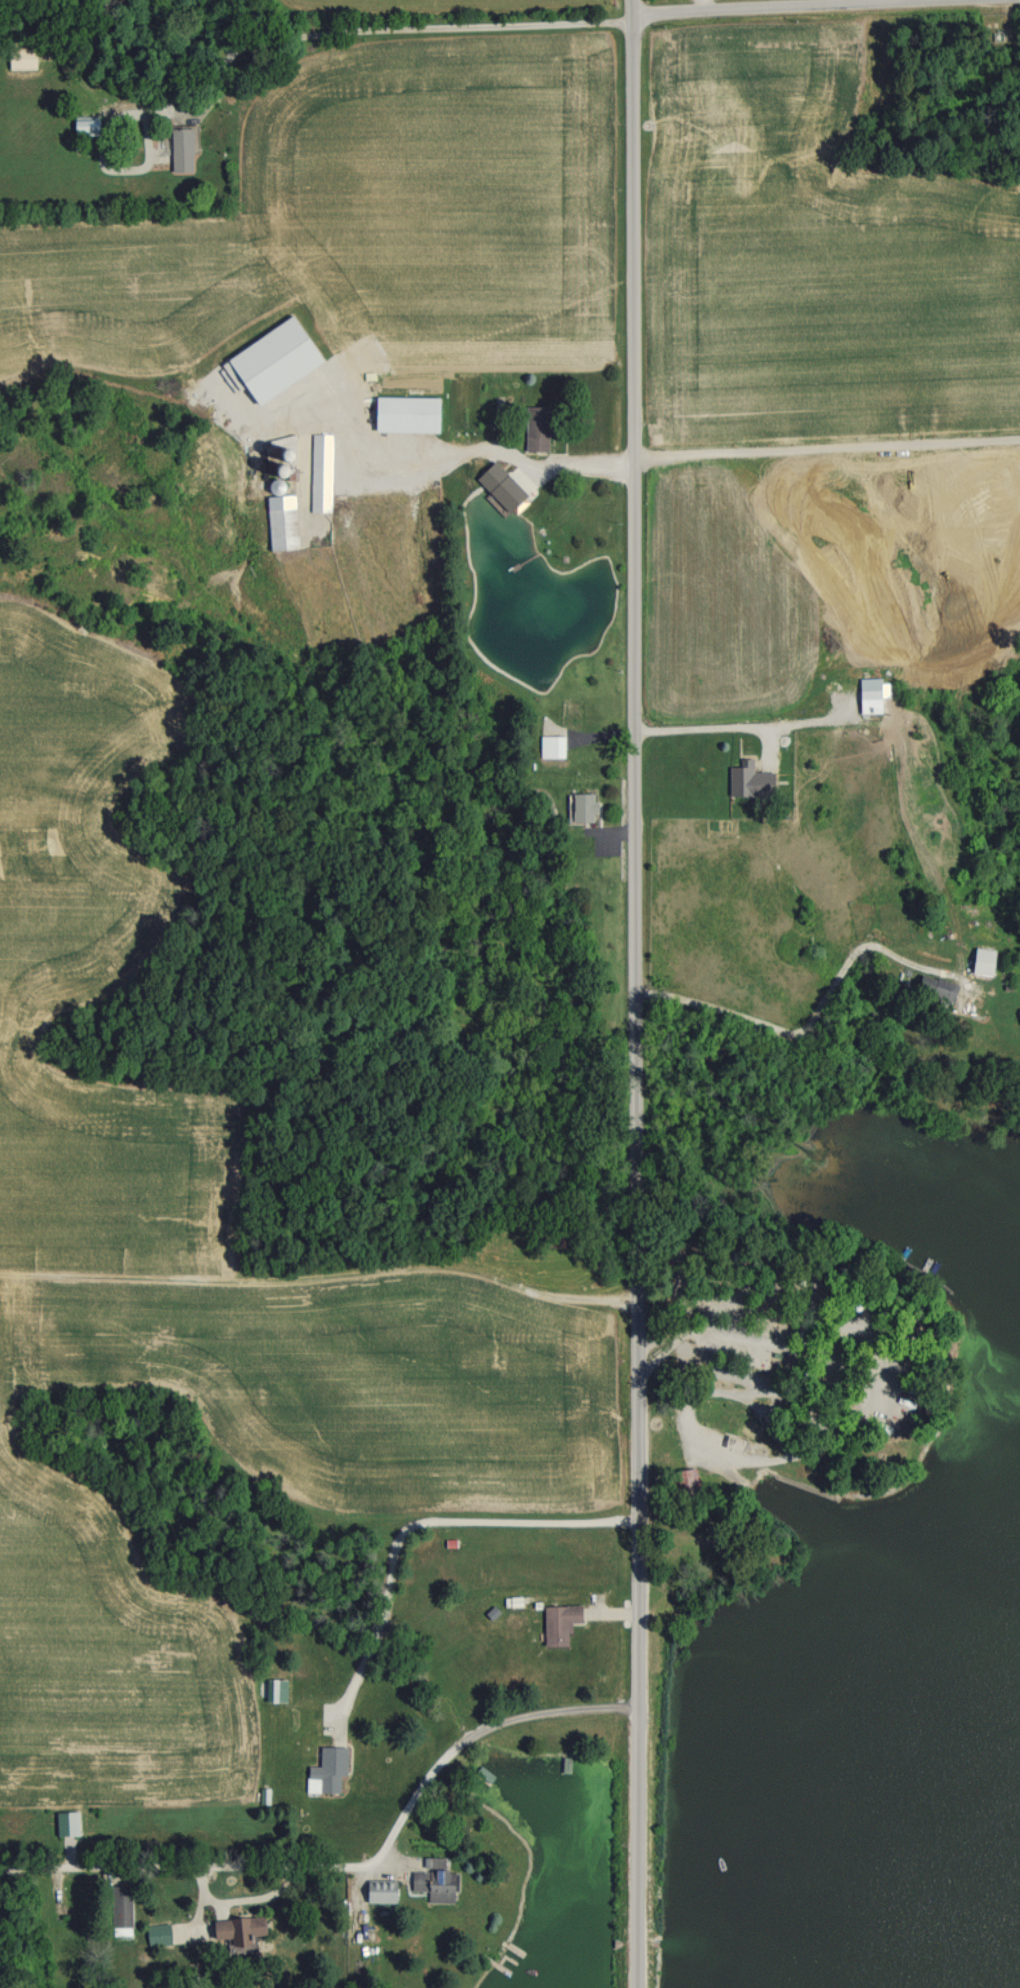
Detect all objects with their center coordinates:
road: (761, 5)
road: (397, 30)
building: (22, 58)
building: (85, 125)
building: (180, 149)
building: (270, 360)
building: (403, 414)
building: (536, 428)
building: (320, 472)
building: (500, 481)
building: (280, 521)
building: (867, 701)
road: (702, 726)
building: (550, 746)
building: (748, 781)
building: (582, 807)
building: (980, 961)
building: (935, 988)
road: (628, 994)
building: (1018, 1016)
road: (796, 1036)
road: (827, 1366)
road: (410, 1529)
building: (557, 1622)
building: (326, 1771)
road: (350, 1869)
building: (432, 1880)
building: (379, 1891)
building: (119, 1906)
building: (234, 1929)

